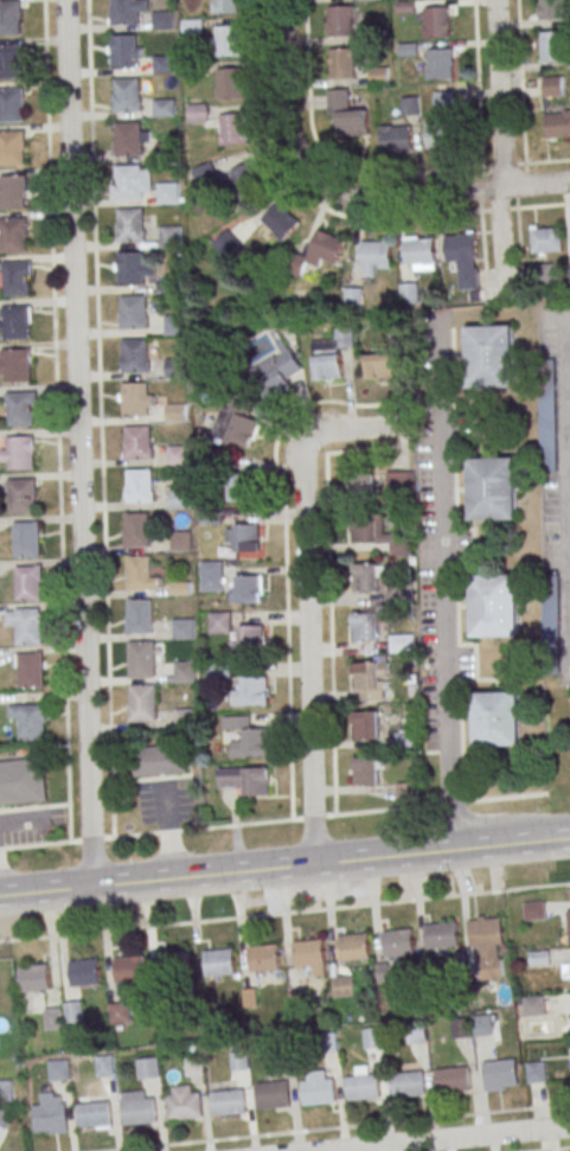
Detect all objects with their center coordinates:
building: (225, 6)
building: (551, 9)
building: (124, 12)
building: (9, 17)
building: (162, 20)
building: (340, 20)
building: (436, 21)
building: (192, 26)
building: (228, 40)
building: (552, 47)
building: (124, 51)
building: (11, 62)
building: (341, 63)
building: (440, 64)
building: (162, 65)
building: (194, 69)
building: (229, 82)
road: (520, 82)
building: (553, 85)
road: (283, 90)
road: (499, 94)
building: (127, 95)
building: (443, 100)
building: (11, 104)
building: (410, 105)
road: (478, 105)
building: (162, 108)
building: (347, 113)
building: (197, 114)
road: (265, 117)
building: (557, 124)
building: (233, 129)
building: (440, 134)
building: (128, 139)
building: (396, 139)
building: (11, 148)
building: (165, 151)
road: (325, 158)
building: (245, 177)
building: (129, 183)
road: (517, 191)
building: (13, 192)
road: (436, 192)
building: (167, 193)
road: (420, 217)
building: (280, 220)
building: (130, 224)
building: (13, 235)
building: (169, 238)
building: (544, 239)
road: (500, 241)
building: (319, 252)
building: (420, 252)
building: (374, 257)
building: (461, 260)
building: (130, 267)
building: (15, 279)
building: (408, 293)
building: (352, 296)
building: (134, 312)
building: (17, 322)
building: (174, 325)
building: (133, 354)
building: (331, 354)
building: (489, 357)
building: (17, 365)
building: (382, 365)
building: (174, 369)
building: (278, 371)
building: (135, 399)
building: (19, 408)
building: (175, 414)
road: (98, 418)
road: (56, 421)
building: (236, 421)
road: (79, 442)
building: (136, 442)
building: (19, 452)
building: (177, 455)
road: (561, 474)
building: (401, 480)
building: (139, 486)
building: (239, 487)
building: (361, 487)
building: (492, 487)
building: (20, 495)
building: (178, 500)
building: (363, 527)
building: (135, 531)
building: (245, 538)
building: (25, 539)
building: (179, 542)
road: (566, 562)
building: (136, 573)
building: (365, 578)
building: (211, 582)
building: (27, 583)
building: (248, 589)
road: (442, 590)
road: (327, 595)
road: (306, 597)
building: (494, 605)
building: (139, 616)
building: (218, 622)
building: (25, 625)
building: (364, 627)
building: (181, 629)
building: (250, 640)
building: (401, 641)
building: (139, 658)
building: (30, 670)
building: (182, 672)
building: (218, 673)
building: (365, 677)
building: (254, 691)
building: (141, 703)
building: (184, 717)
building: (498, 720)
building: (30, 723)
building: (365, 725)
building: (255, 743)
building: (158, 760)
building: (365, 772)
building: (21, 782)
building: (255, 782)
building: (403, 791)
parking lot: (164, 802)
road: (33, 808)
road: (328, 817)
parking lot: (27, 826)
road: (56, 843)
road: (284, 867)
building: (534, 912)
road: (284, 914)
building: (569, 922)
building: (485, 933)
building: (441, 936)
building: (398, 944)
building: (353, 947)
building: (308, 954)
building: (538, 958)
building: (264, 959)
building: (219, 964)
building: (174, 966)
building: (130, 971)
building: (383, 973)
building: (84, 974)
building: (33, 978)
building: (344, 987)
building: (533, 1006)
building: (72, 1013)
building: (120, 1013)
building: (53, 1019)
building: (481, 1028)
building: (461, 1029)
building: (416, 1035)
building: (372, 1040)
building: (326, 1044)
building: (280, 1050)
building: (238, 1062)
building: (103, 1067)
building: (194, 1067)
building: (146, 1069)
building: (536, 1070)
building: (58, 1073)
building: (500, 1074)
building: (451, 1081)
building: (408, 1086)
building: (363, 1088)
building: (5, 1092)
building: (318, 1093)
building: (273, 1096)
building: (226, 1104)
building: (184, 1107)
building: (137, 1112)
building: (92, 1115)
building: (2, 1118)
building: (49, 1119)
road: (342, 1127)
road: (446, 1138)
road: (559, 1150)

